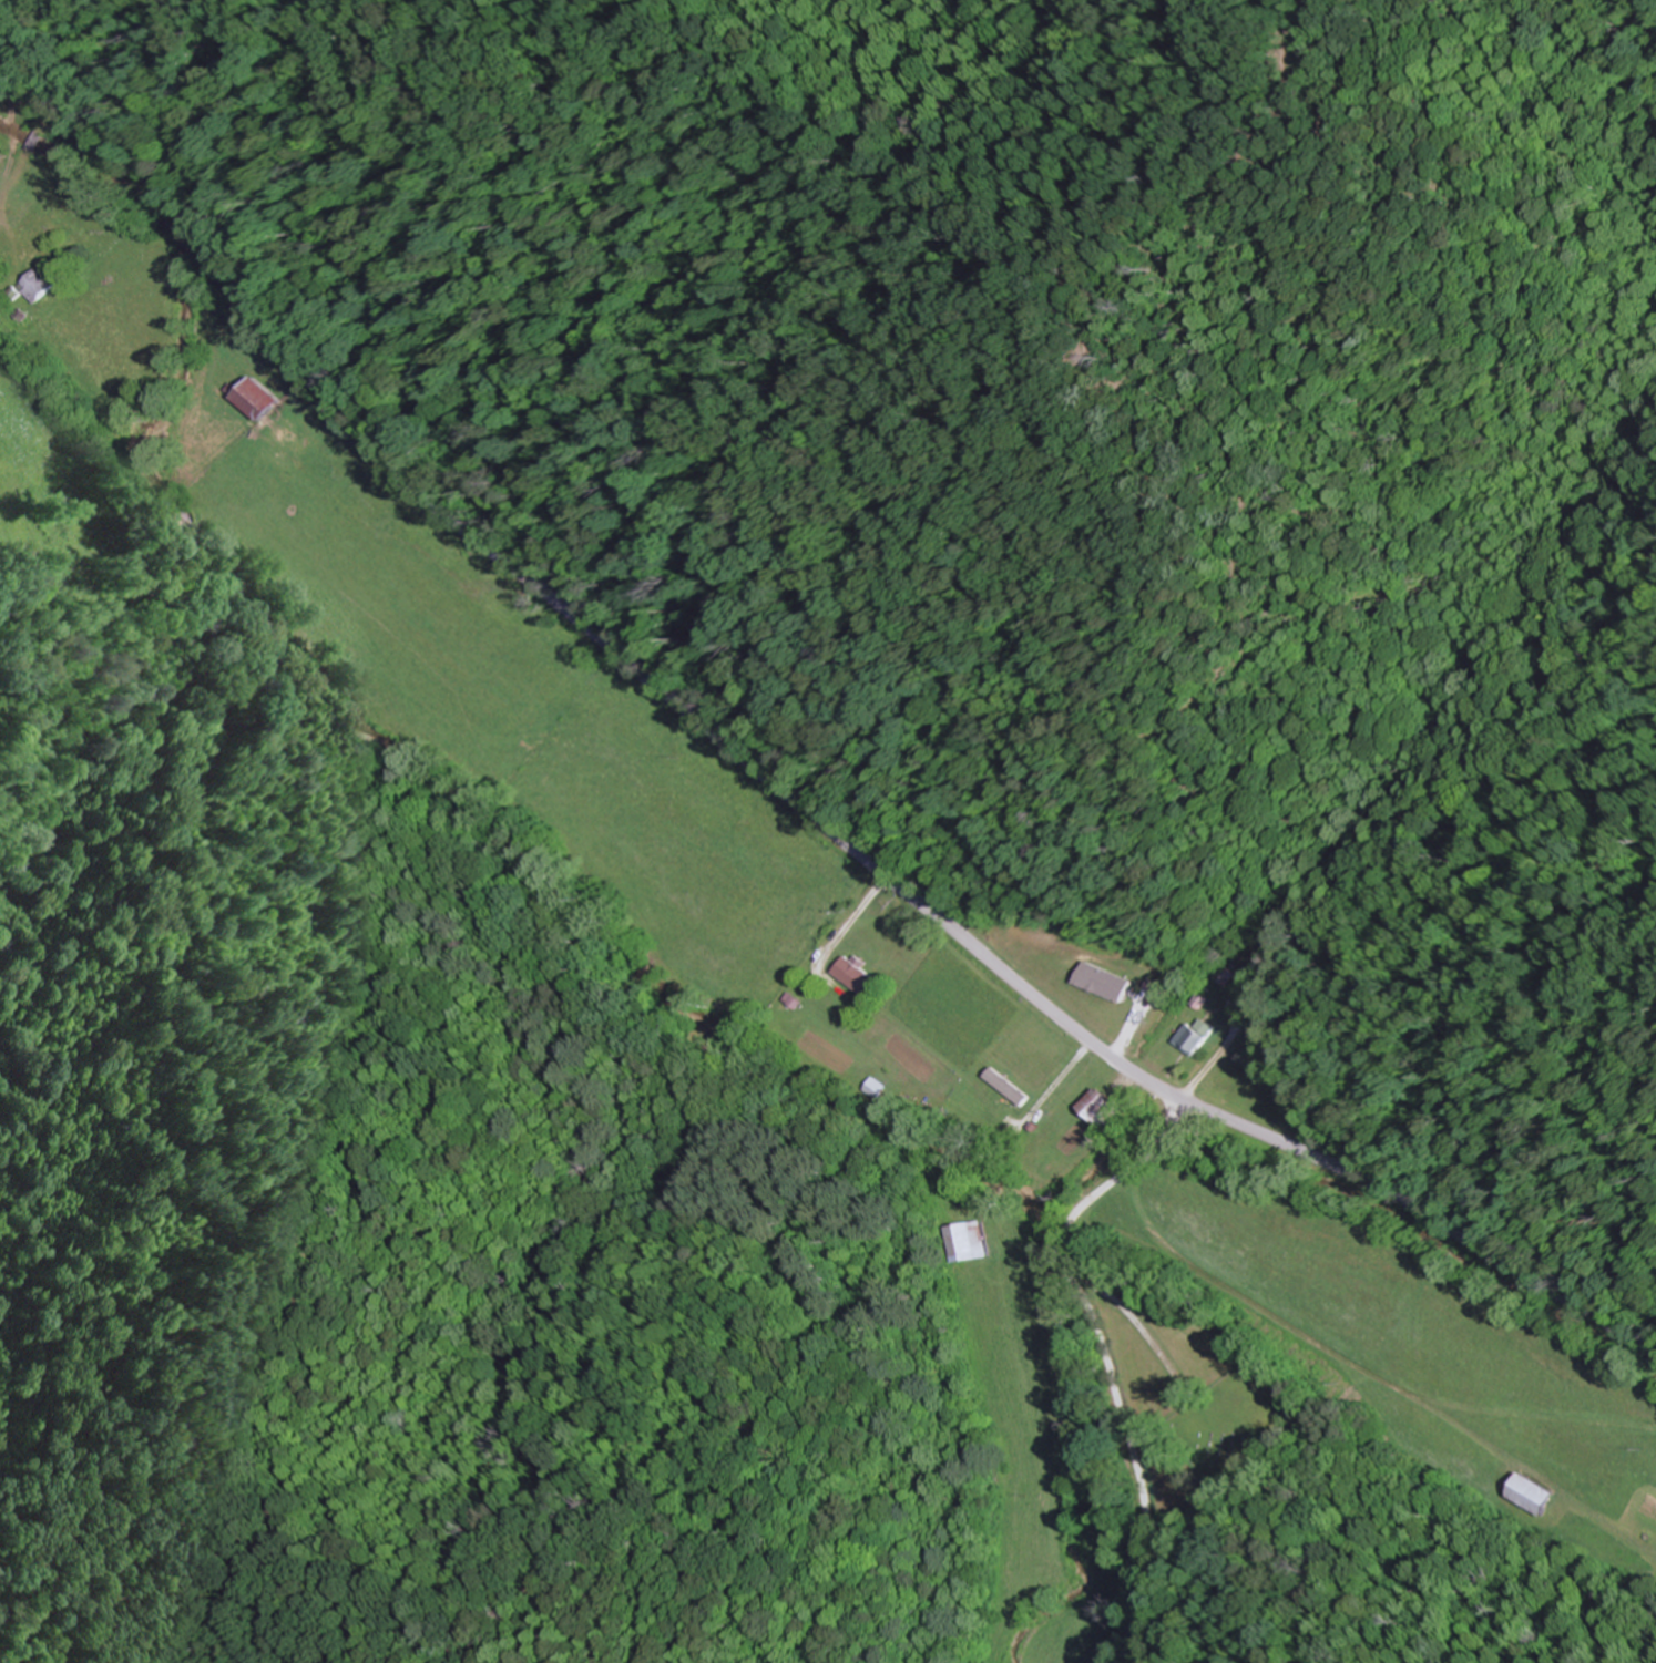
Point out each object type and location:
building: (256, 399)
road: (770, 782)
building: (855, 975)
building: (1194, 1036)
building: (877, 1088)
building: (1102, 1108)
road: (1182, 1113)
road: (1171, 1136)
building: (967, 1240)
road: (1113, 1379)
building: (1530, 1493)

